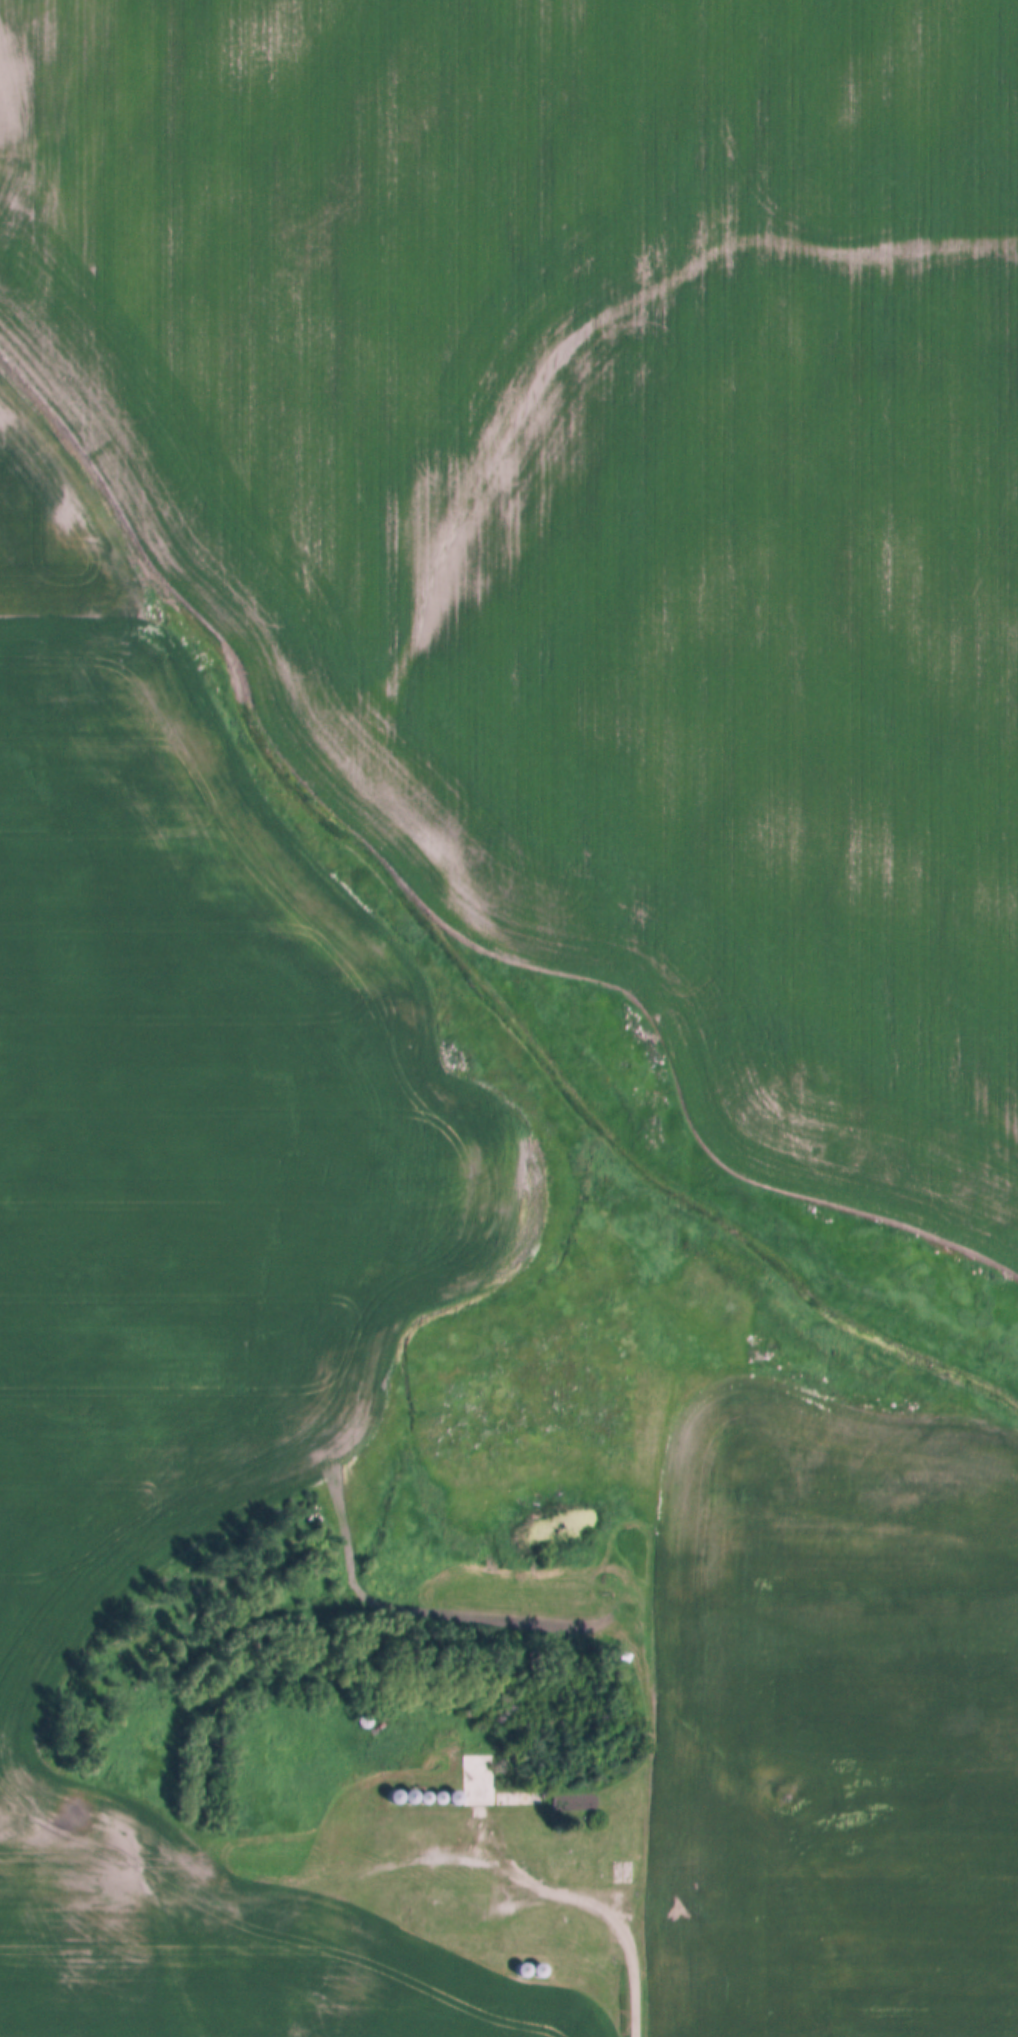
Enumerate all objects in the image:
road: (601, 1904)
road: (234, 1907)

